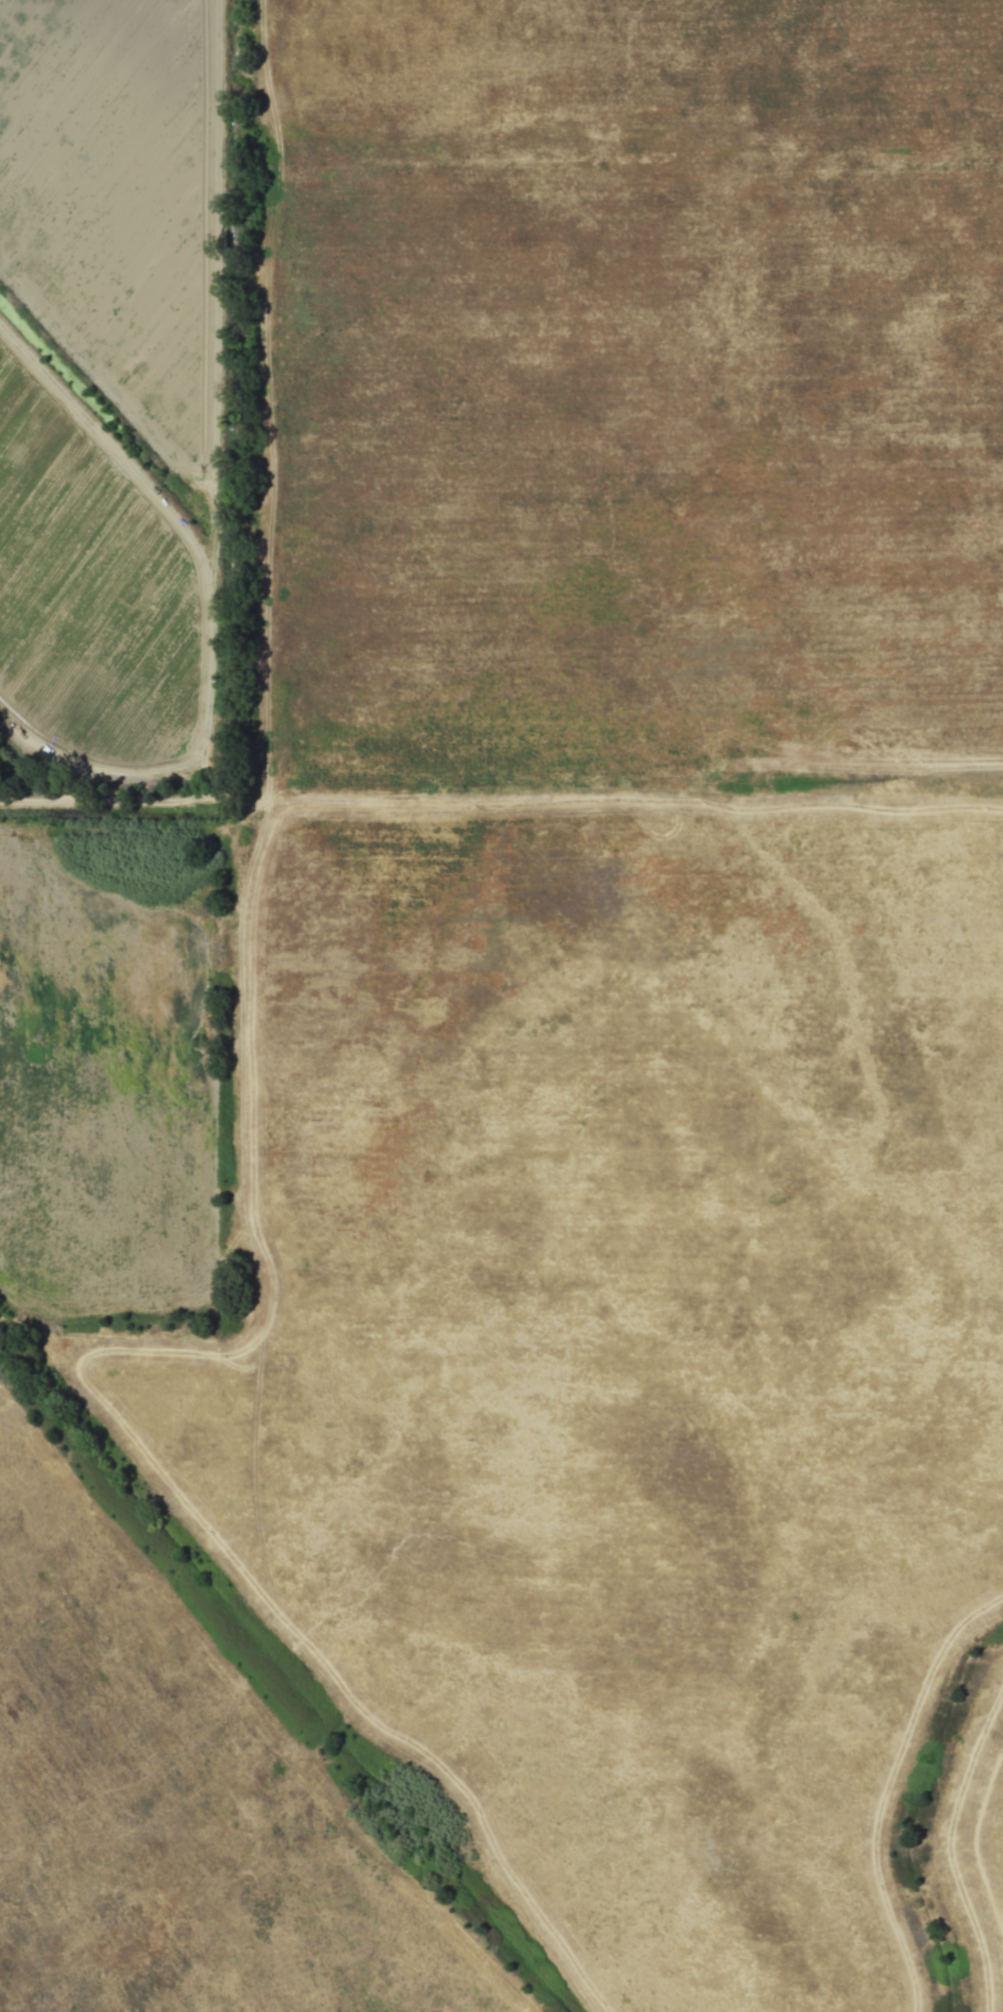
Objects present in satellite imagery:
crop: (122, 209)

